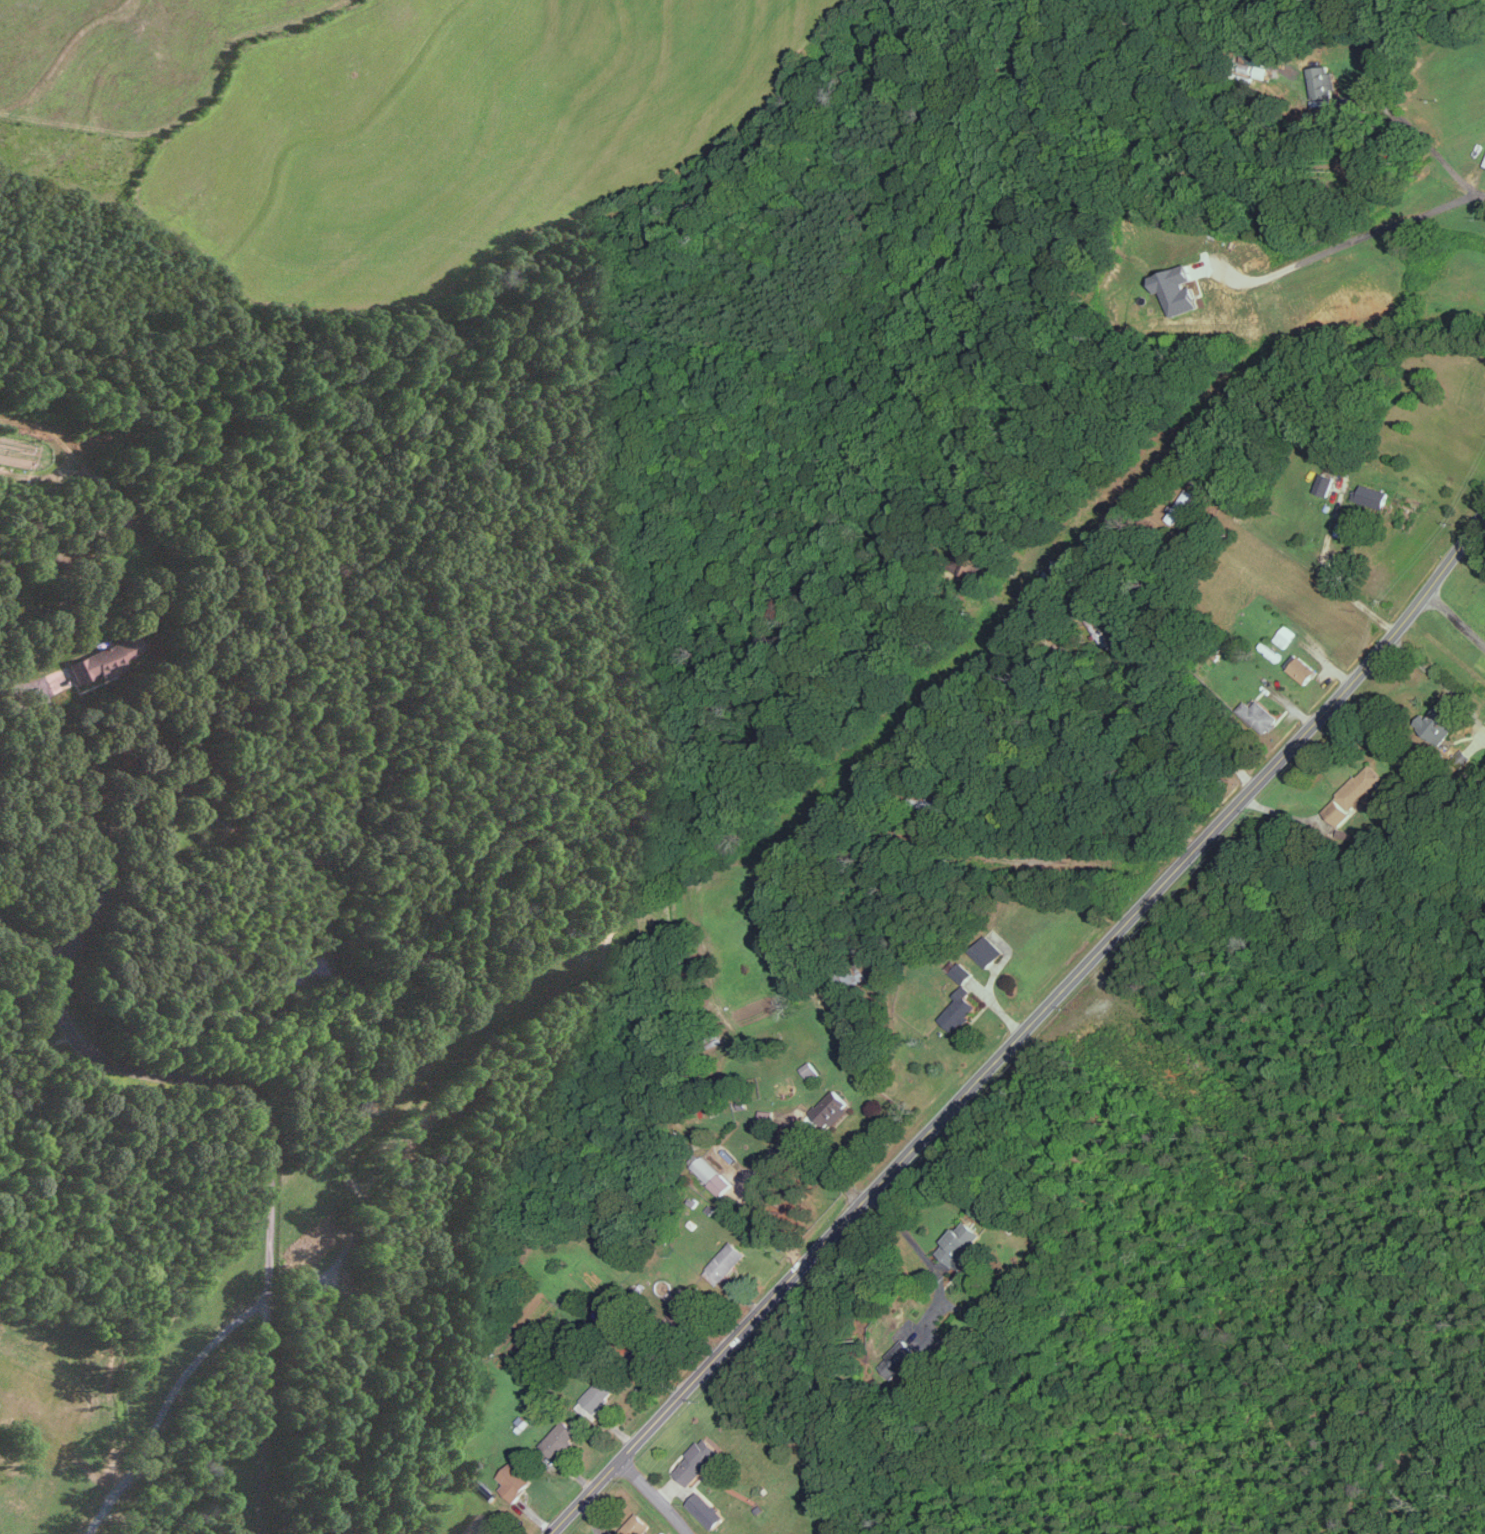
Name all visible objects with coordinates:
building: (1259, 60)
building: (1322, 80)
road: (1413, 130)
road: (1479, 194)
road: (1341, 241)
building: (1177, 287)
building: (1324, 483)
building: (1181, 505)
building: (965, 561)
road: (1320, 572)
road: (1456, 617)
building: (1284, 635)
road: (155, 640)
building: (102, 659)
road: (1133, 667)
building: (1300, 667)
road: (1435, 674)
building: (1258, 713)
building: (1437, 723)
building: (1357, 792)
road: (94, 808)
building: (987, 951)
building: (961, 972)
building: (957, 1011)
road: (1022, 1028)
building: (809, 1070)
building: (830, 1109)
road: (265, 1145)
road: (761, 1160)
building: (705, 1169)
building: (720, 1184)
road: (905, 1234)
building: (959, 1245)
building: (724, 1263)
building: (904, 1363)
building: (600, 1392)
building: (559, 1439)
building: (696, 1462)
building: (514, 1481)
road: (653, 1496)
building: (706, 1510)
building: (474, 1525)

